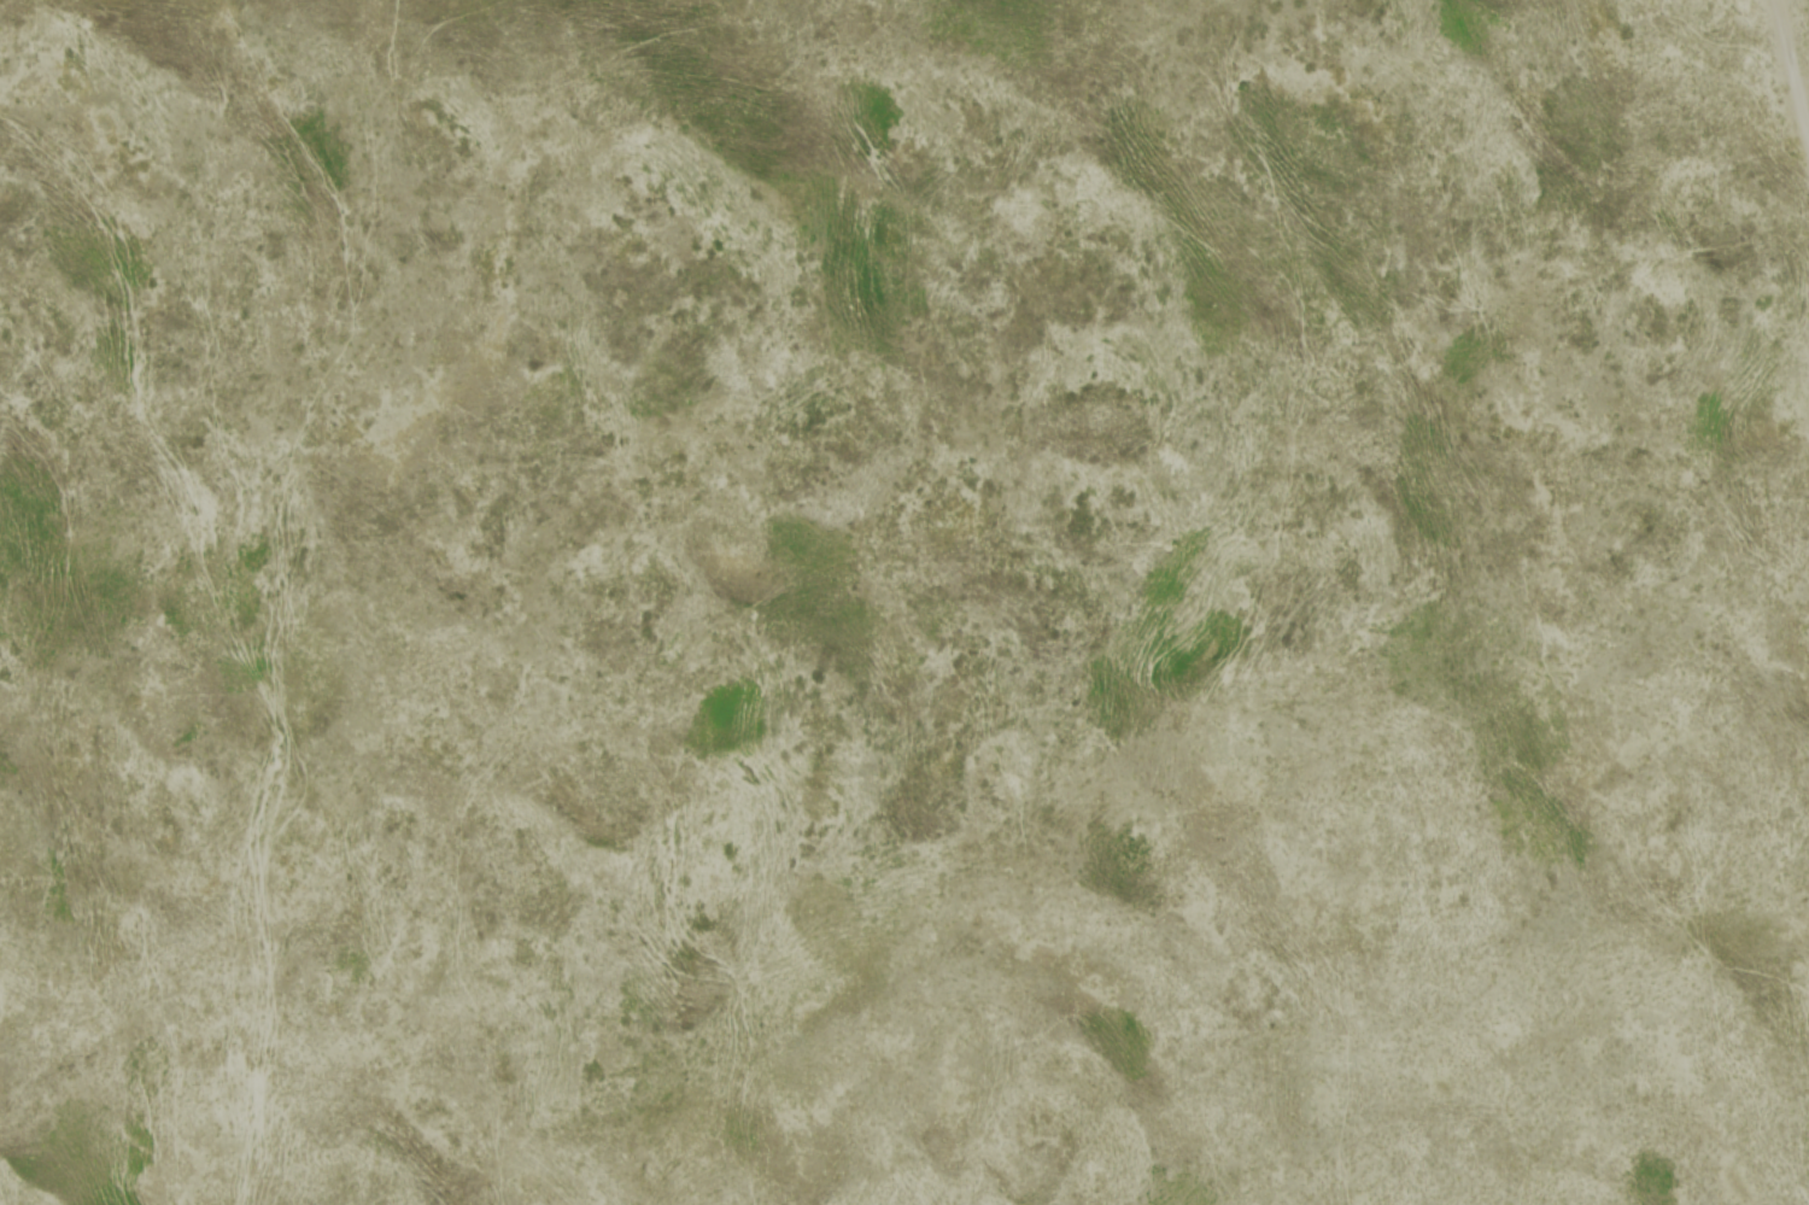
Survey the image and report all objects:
road: (1795, 60)

